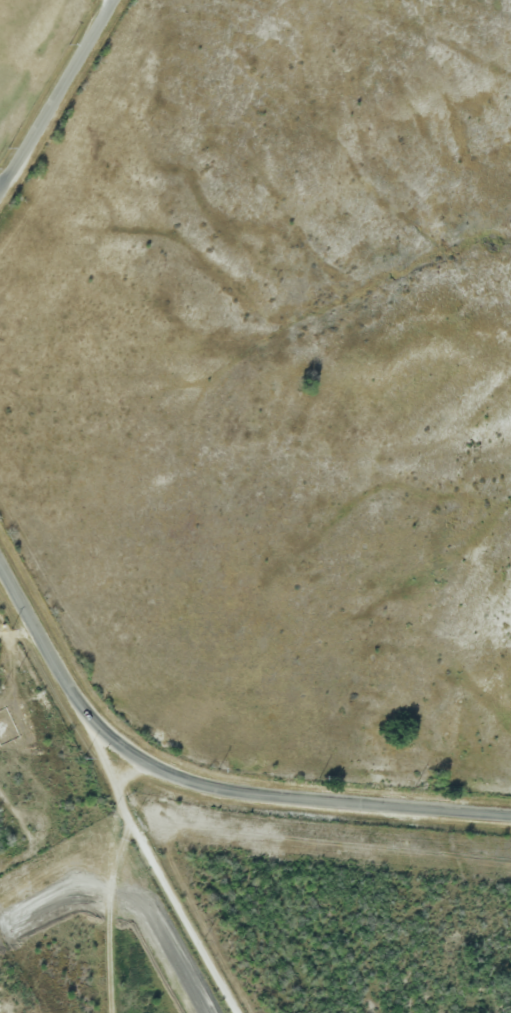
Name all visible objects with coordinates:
road: (114, 3)
road: (60, 101)
road: (40, 625)
road: (282, 793)
road: (157, 857)
road: (124, 896)

